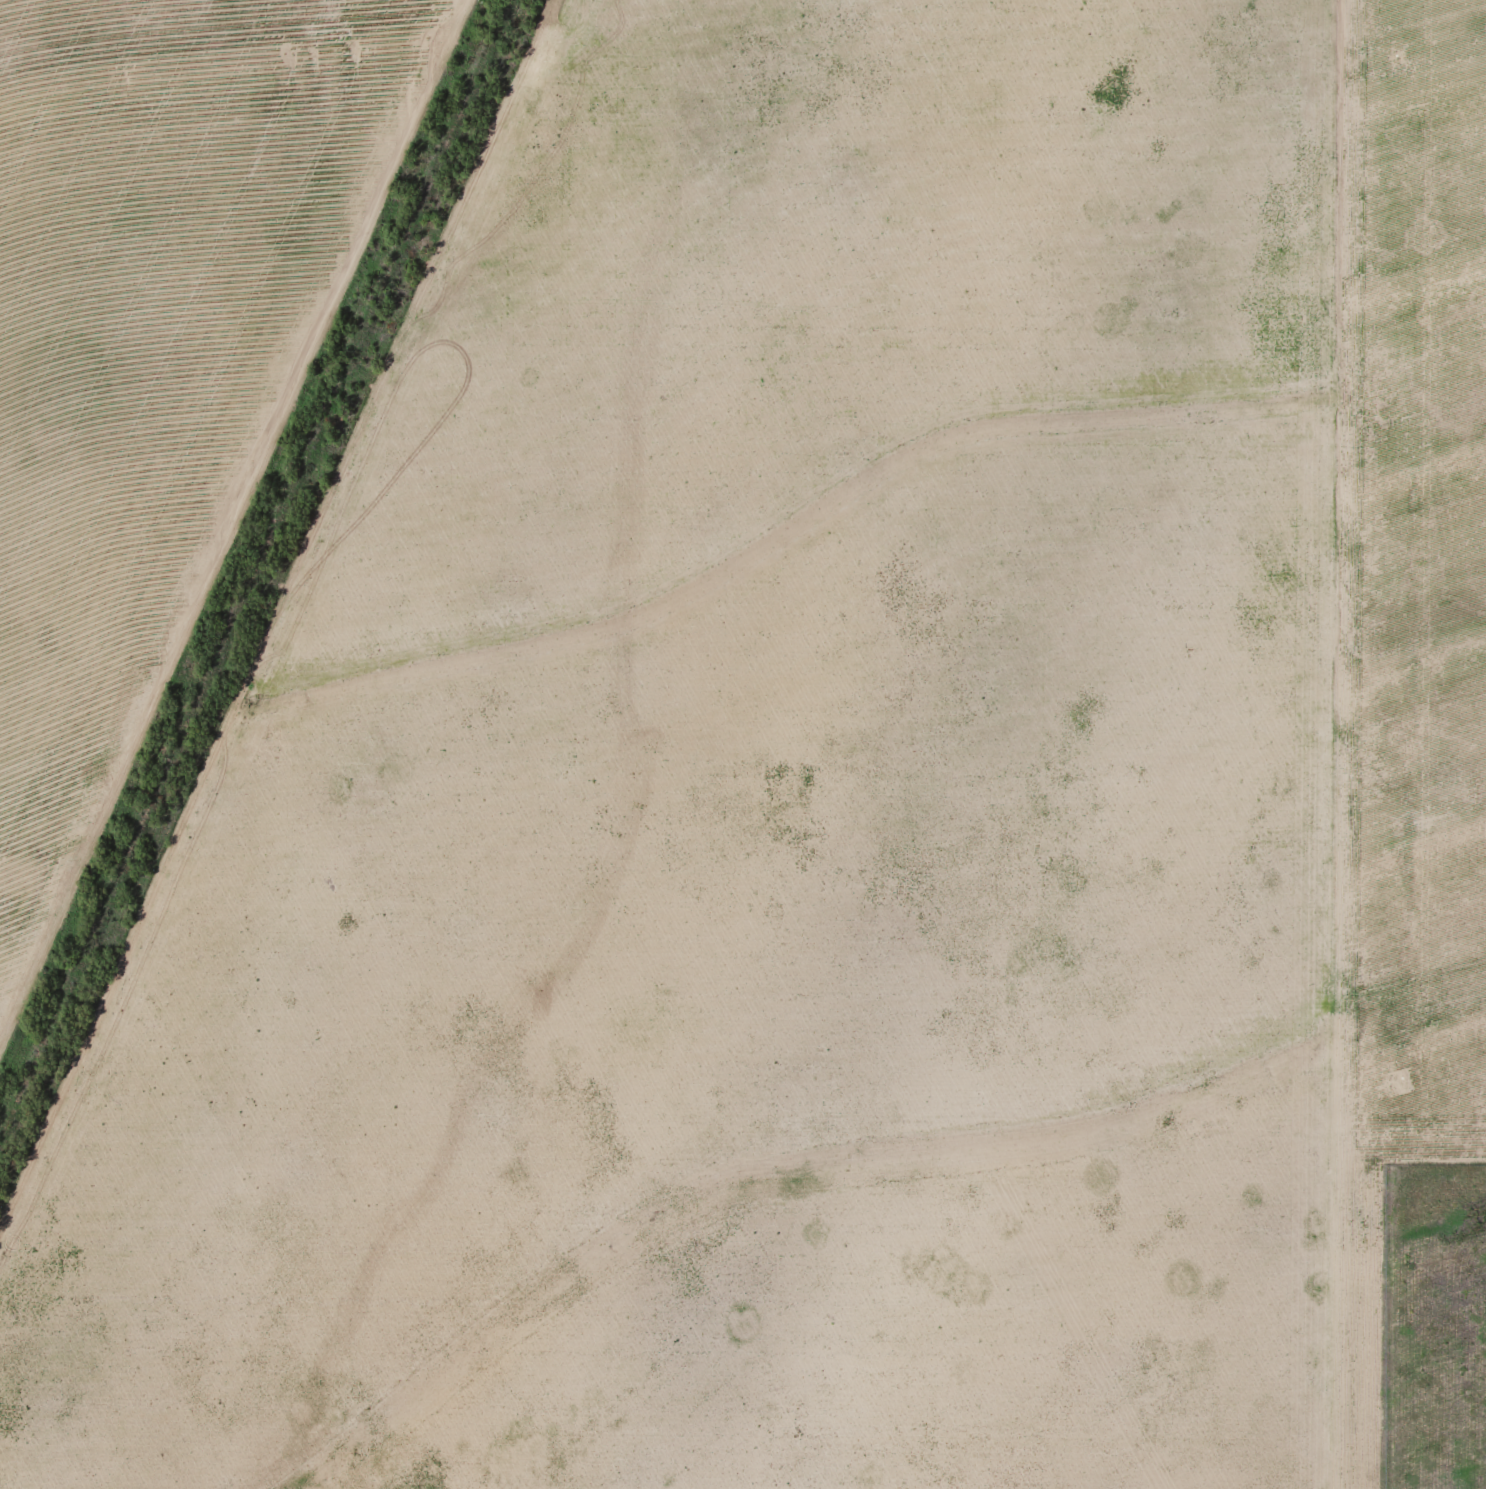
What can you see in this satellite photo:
railway: (254, 567)

